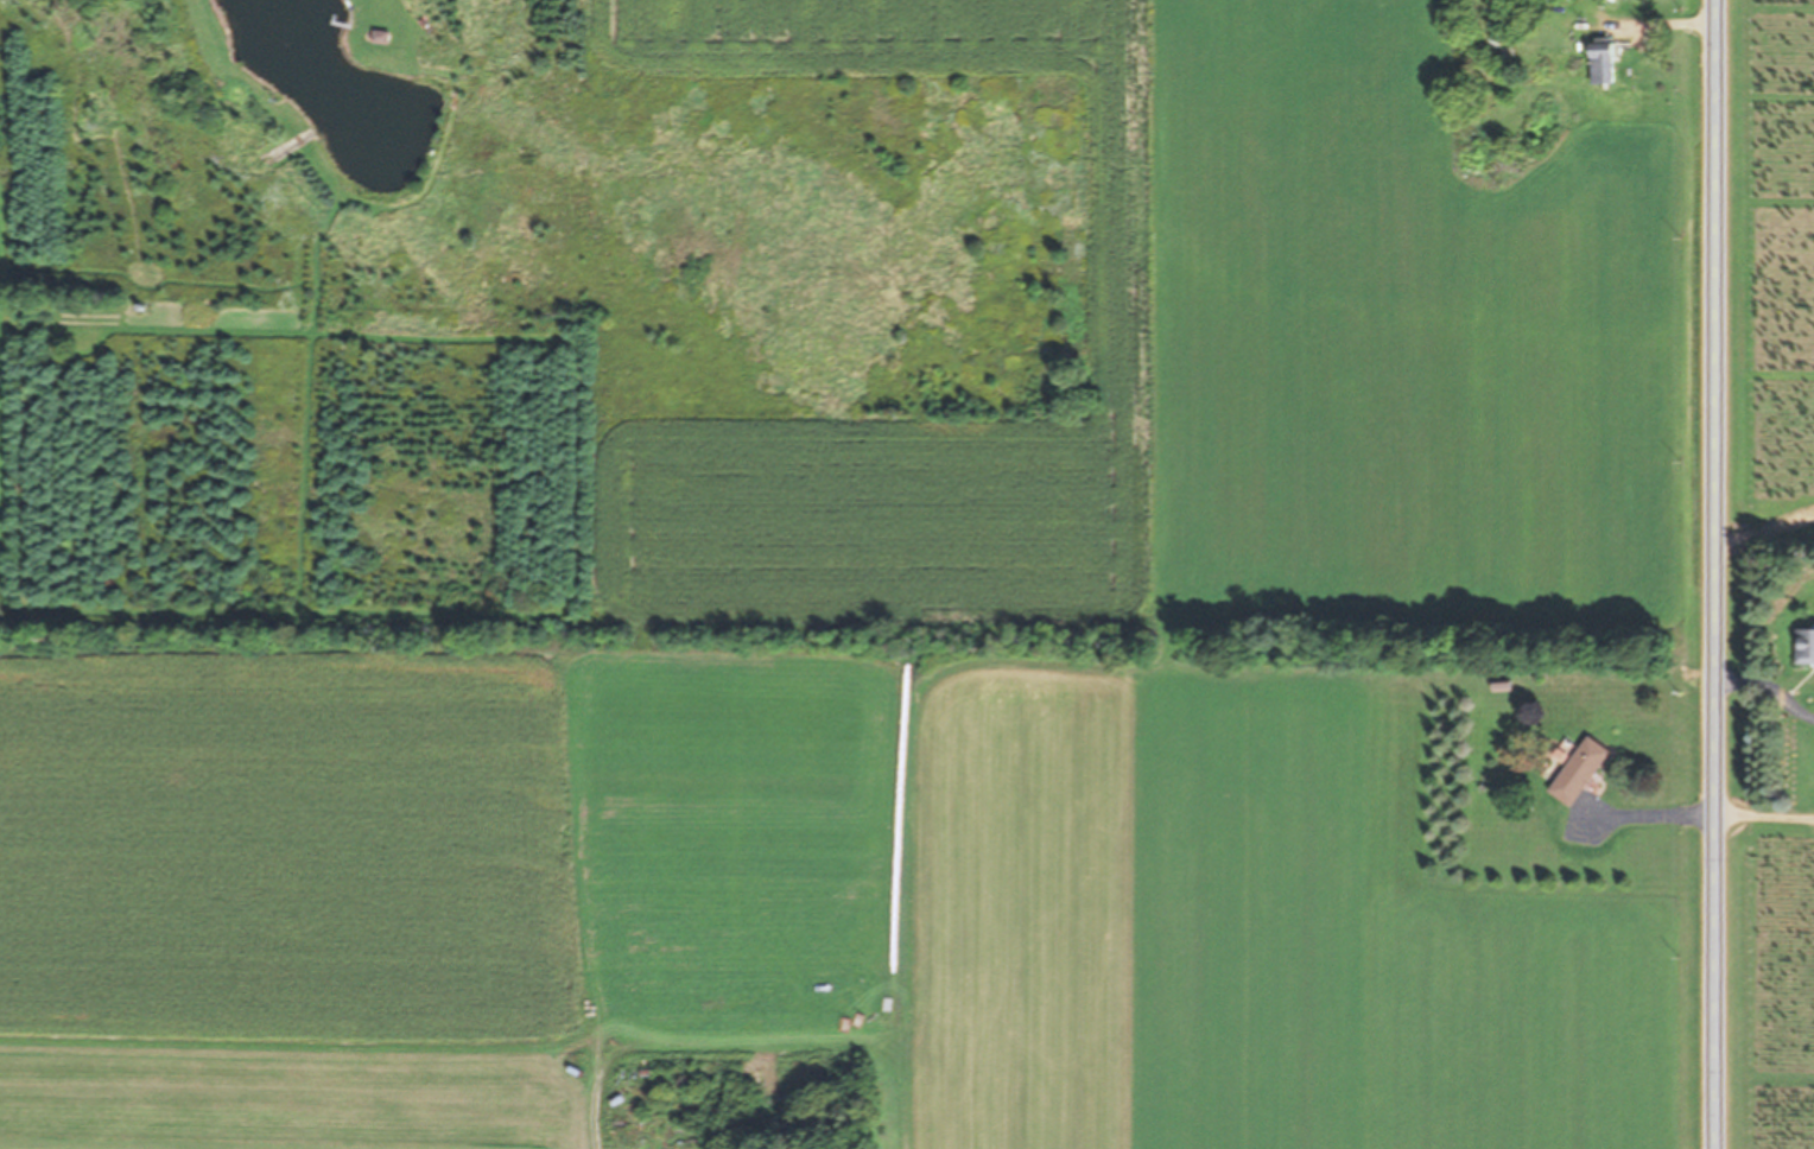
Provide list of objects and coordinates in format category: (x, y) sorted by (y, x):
building: (1605, 62)
road: (1714, 573)
crop: (953, 636)
building: (1806, 647)
building: (1583, 772)

